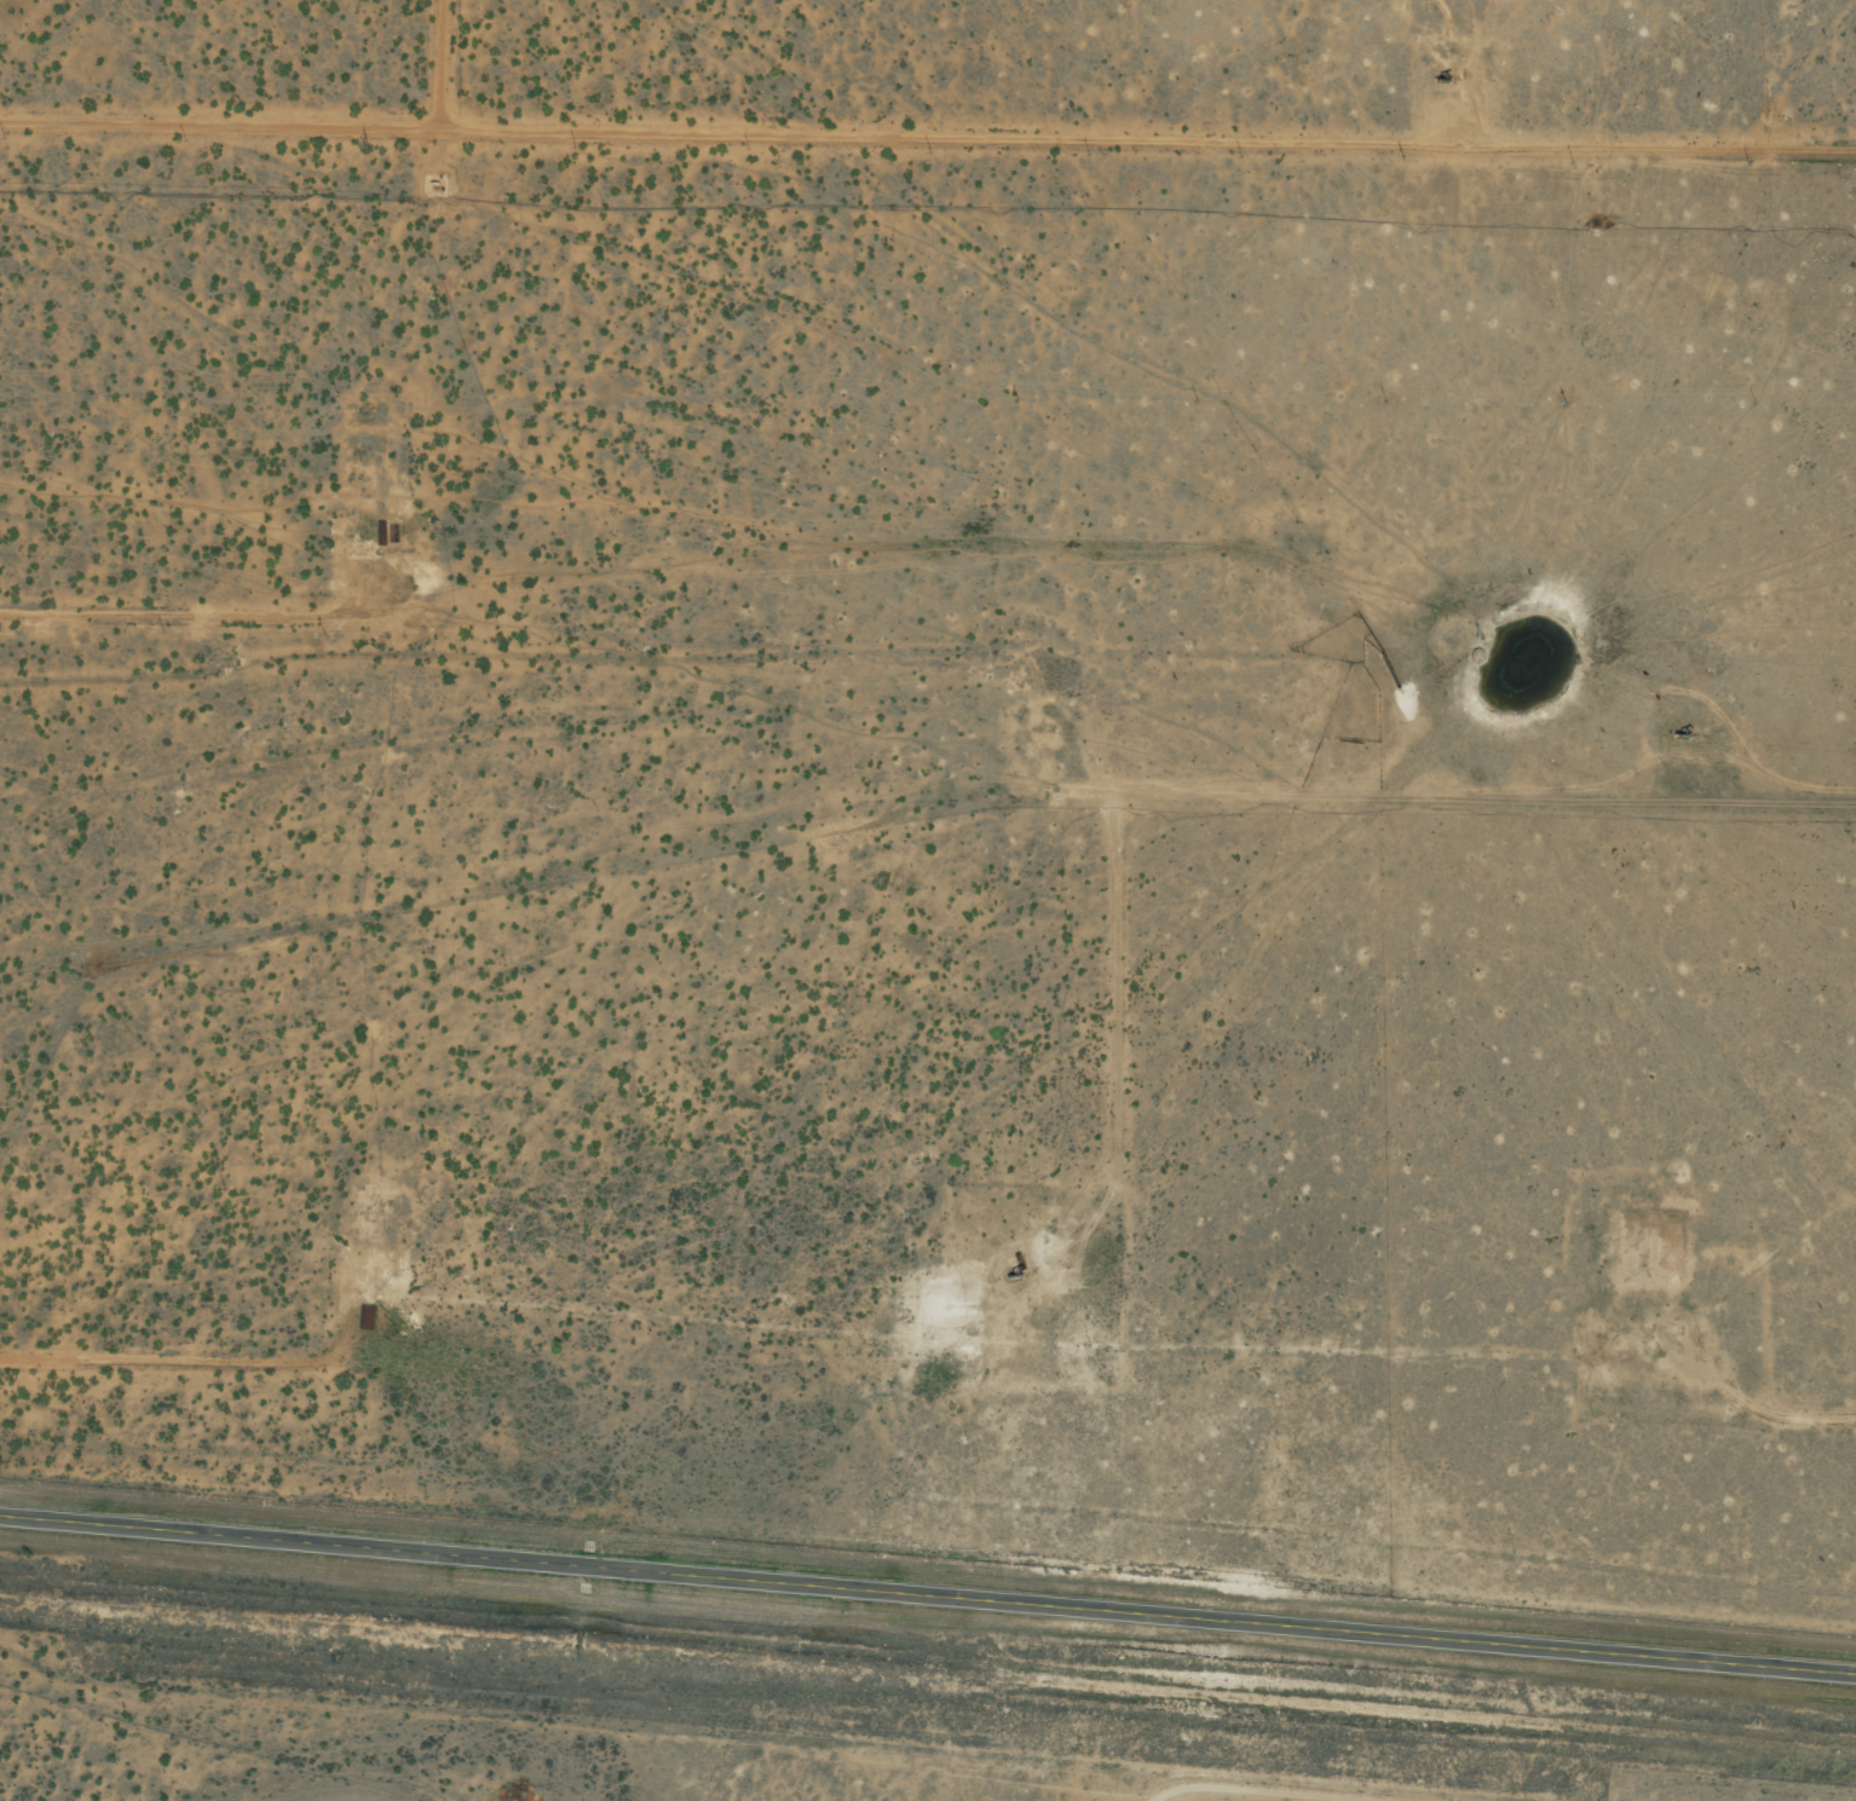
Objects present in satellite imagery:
road: (376, 75)
road: (928, 167)
road: (940, 693)
road: (1671, 1023)
road: (928, 1594)

